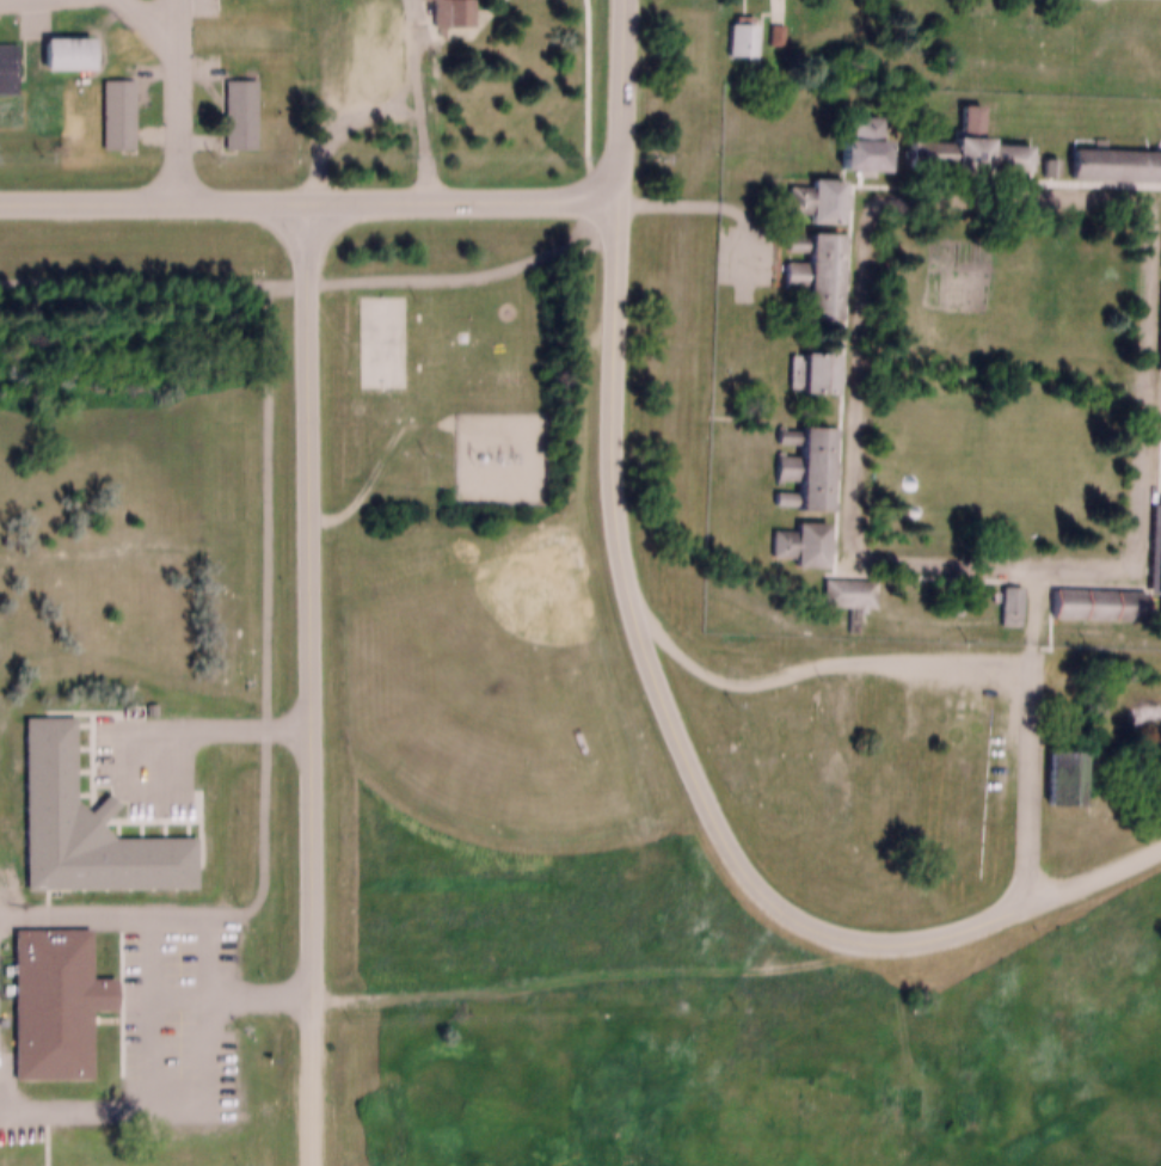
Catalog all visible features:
building: (446, 7)
road: (152, 26)
road: (177, 26)
building: (736, 29)
building: (745, 42)
building: (59, 43)
building: (2, 54)
building: (68, 55)
road: (418, 99)
road: (622, 99)
building: (111, 103)
building: (233, 104)
road: (180, 124)
road: (861, 183)
road: (309, 197)
road: (313, 282)
building: (381, 313)
park: (385, 340)
building: (935, 352)
power substation: (502, 455)
road: (382, 462)
road: (308, 596)
road: (818, 665)
road: (152, 667)
park: (497, 695)
road: (664, 695)
road: (1031, 734)
building: (1053, 772)
building: (78, 818)
road: (1095, 871)
road: (596, 980)
building: (47, 993)
road: (171, 1080)
road: (309, 1081)

